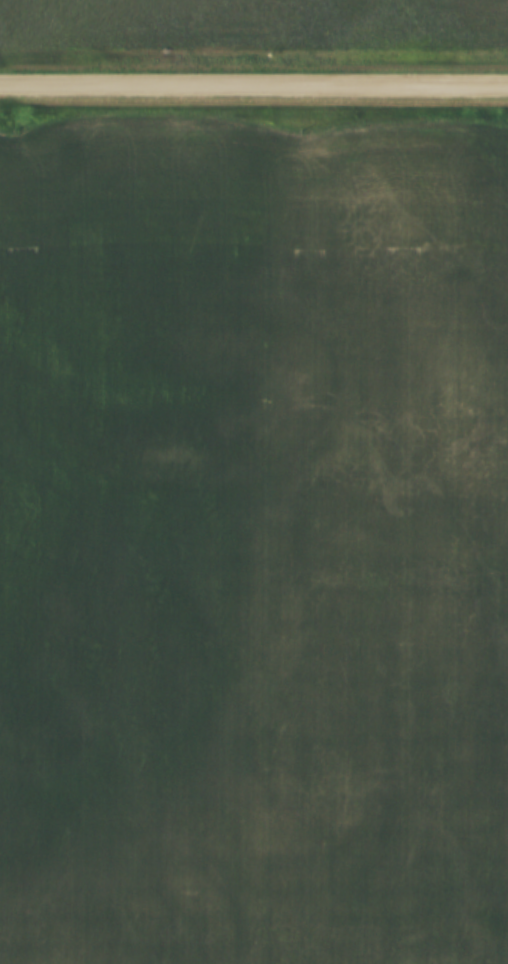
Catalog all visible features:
road: (253, 85)

